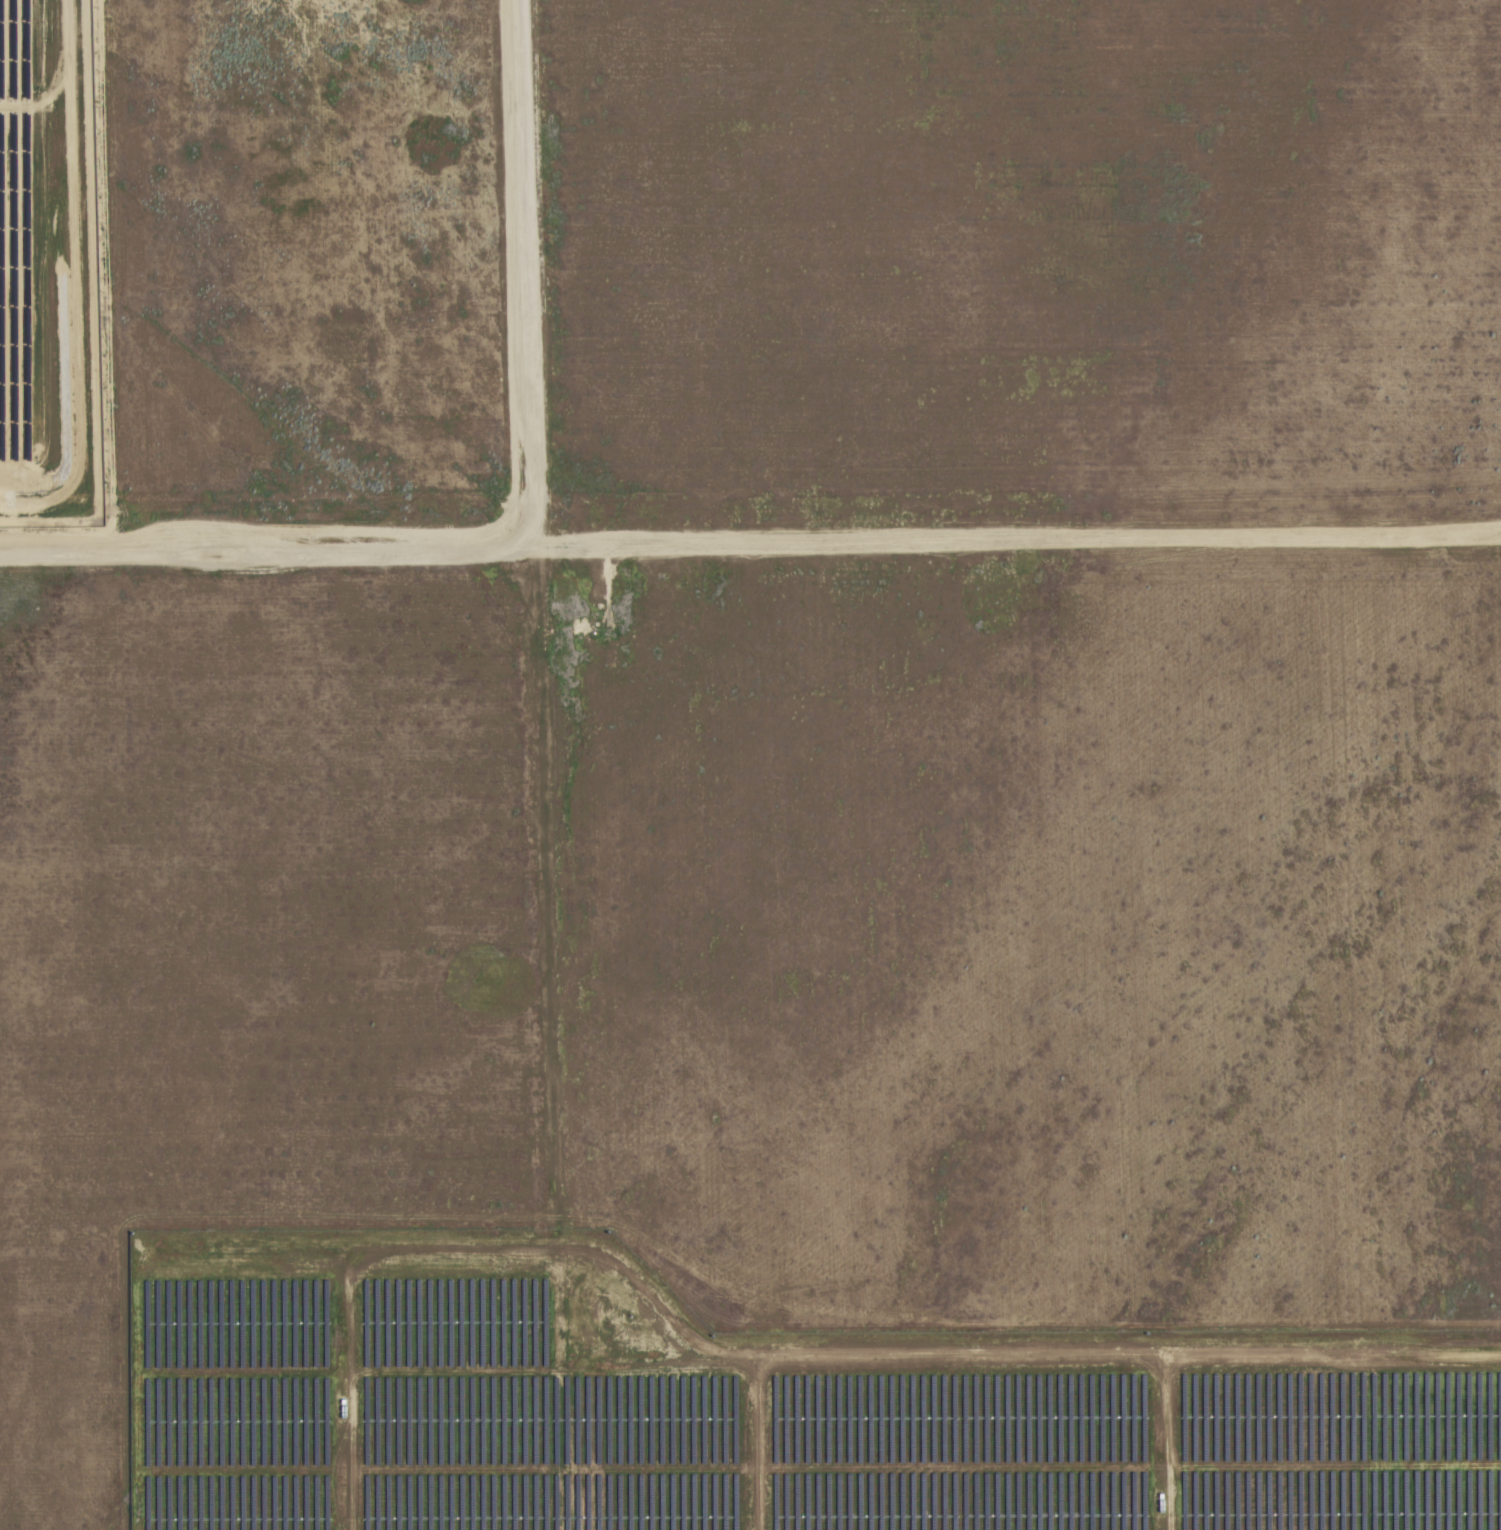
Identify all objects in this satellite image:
solar farm: (49, 266)
road: (750, 543)

